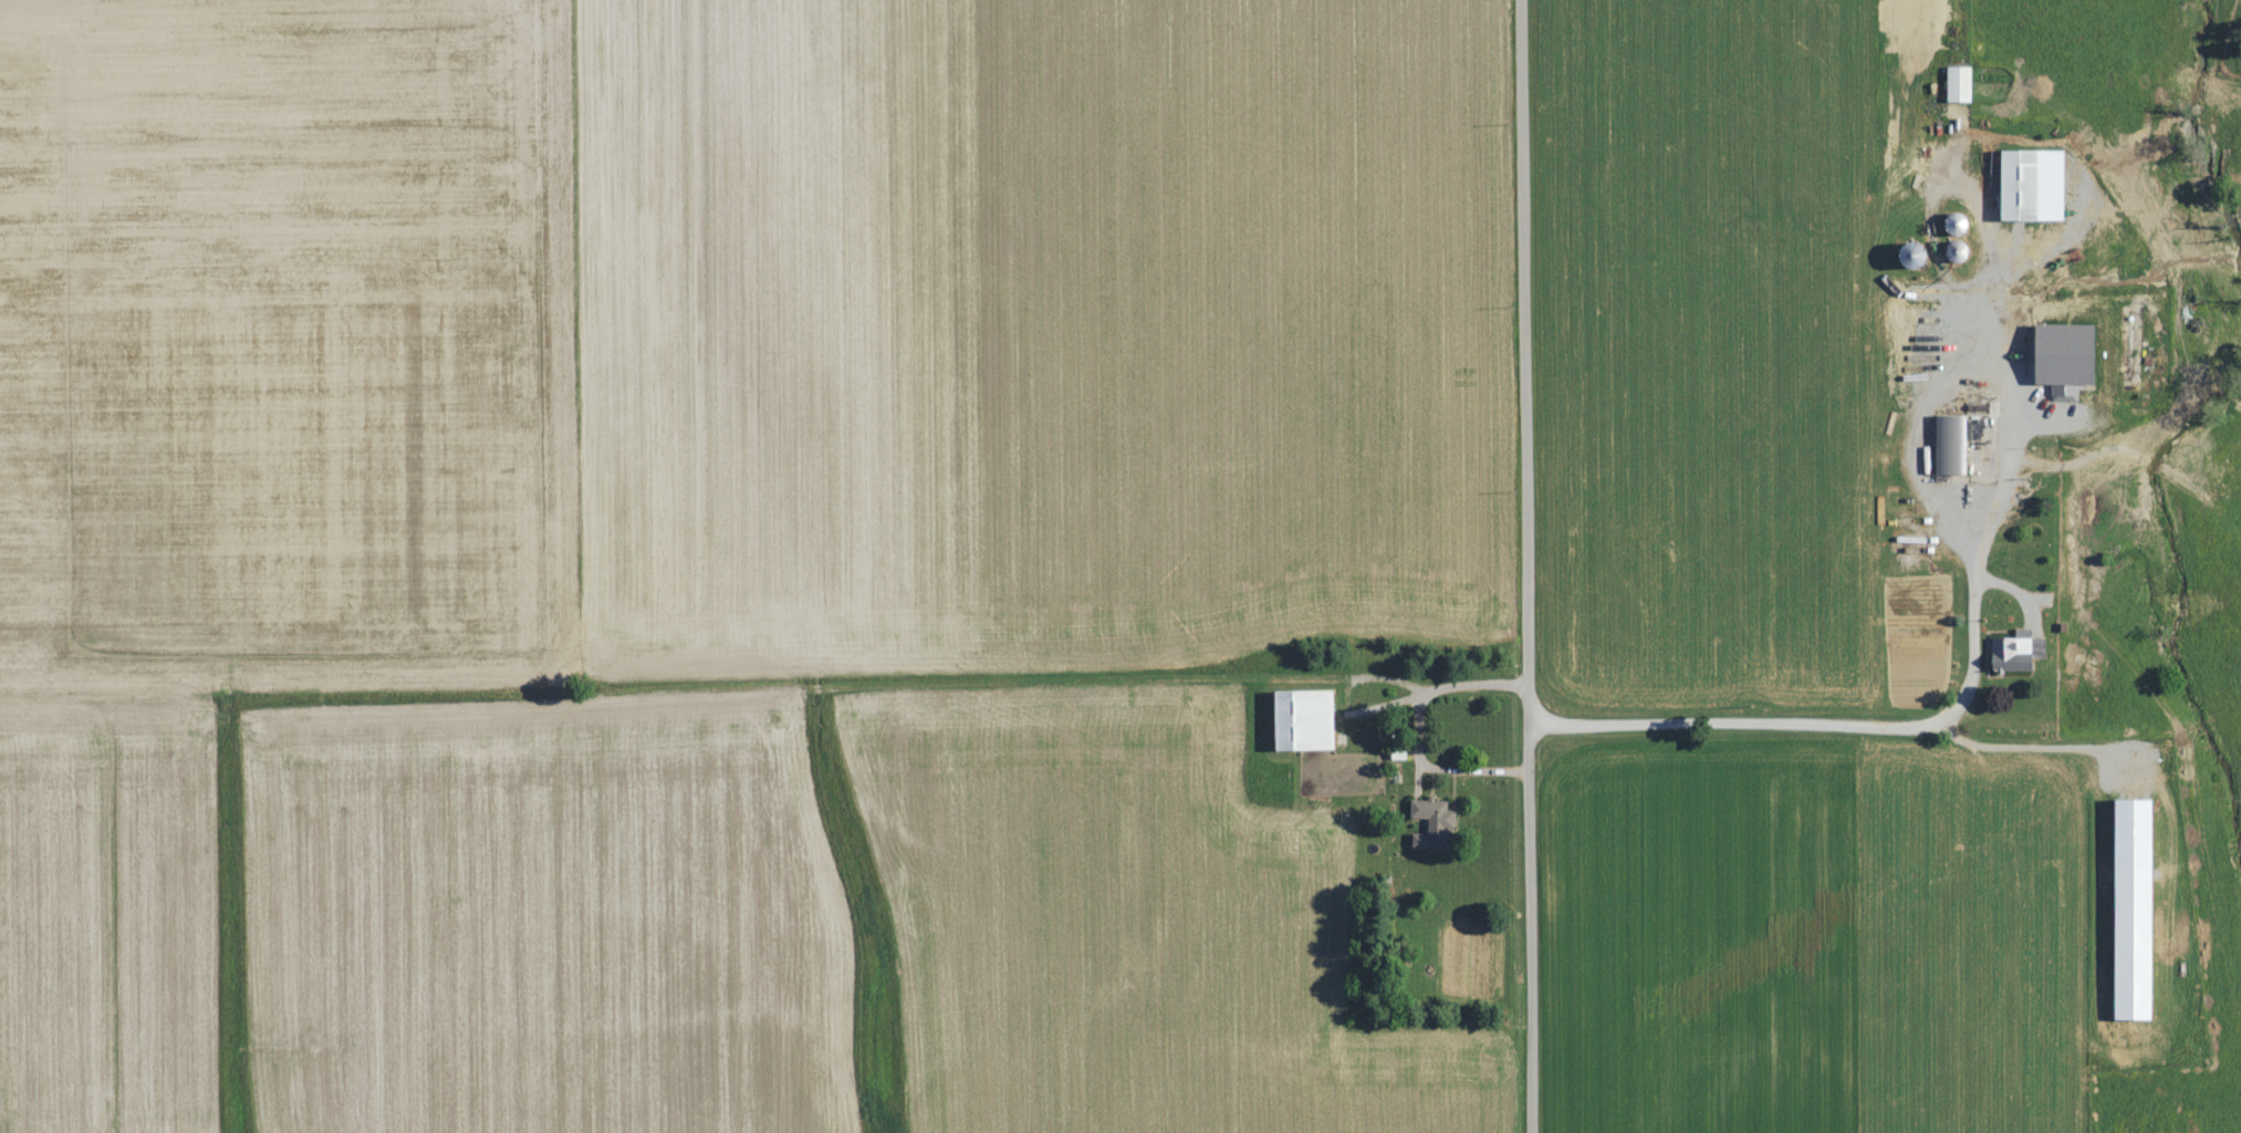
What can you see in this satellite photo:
building: (1957, 83)
building: (2020, 186)
building: (1918, 355)
building: (2063, 355)
building: (1949, 444)
road: (1518, 565)
building: (1303, 718)
road: (1836, 720)
road: (1408, 730)
building: (2131, 906)

